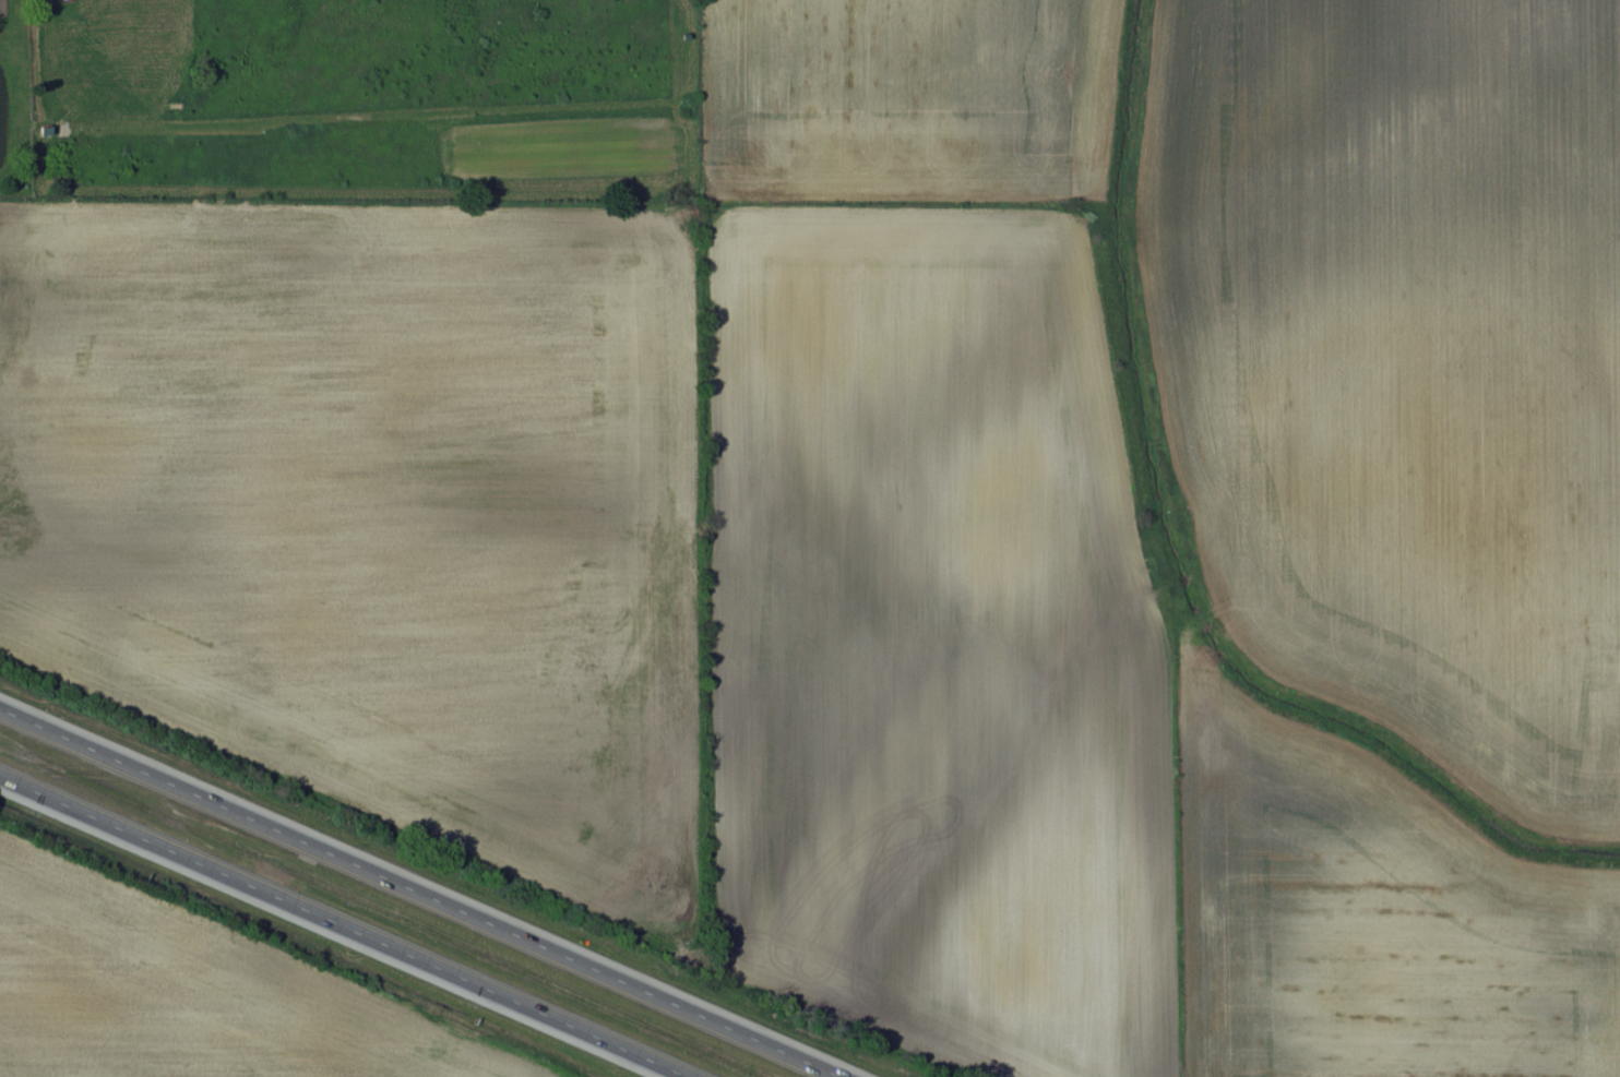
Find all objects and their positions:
road: (418, 893)
road: (342, 926)

